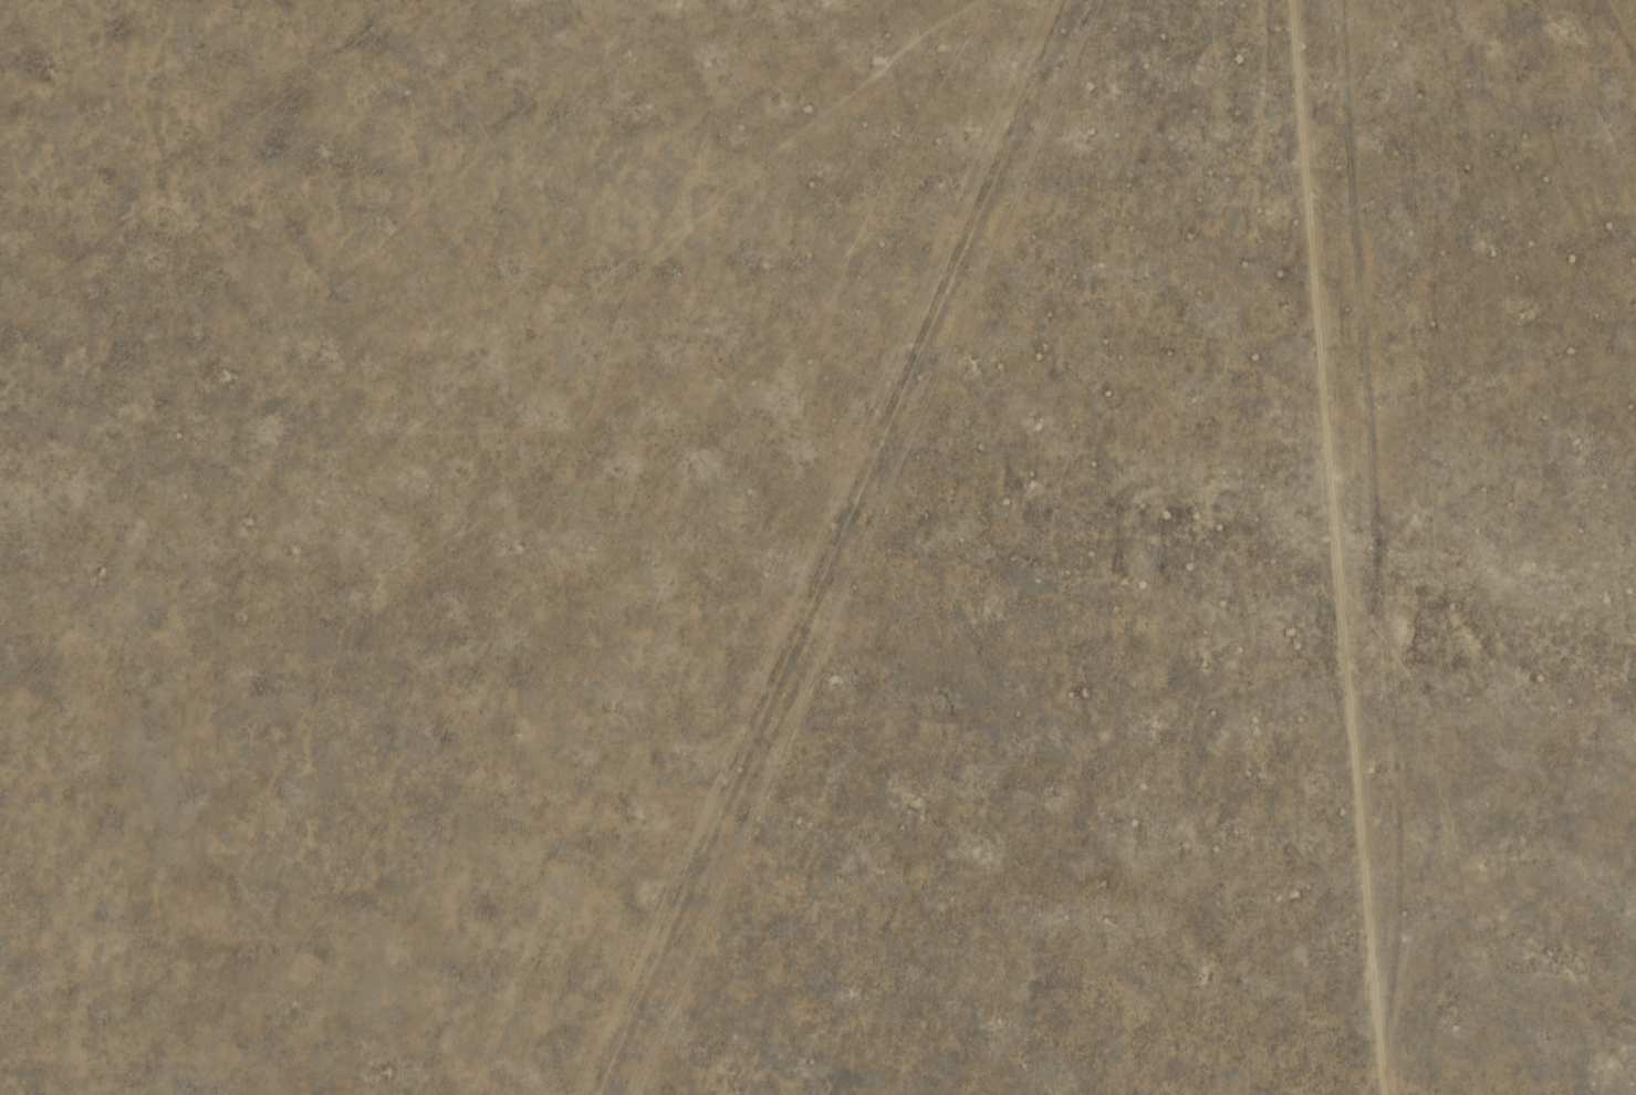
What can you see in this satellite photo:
road: (1348, 547)

